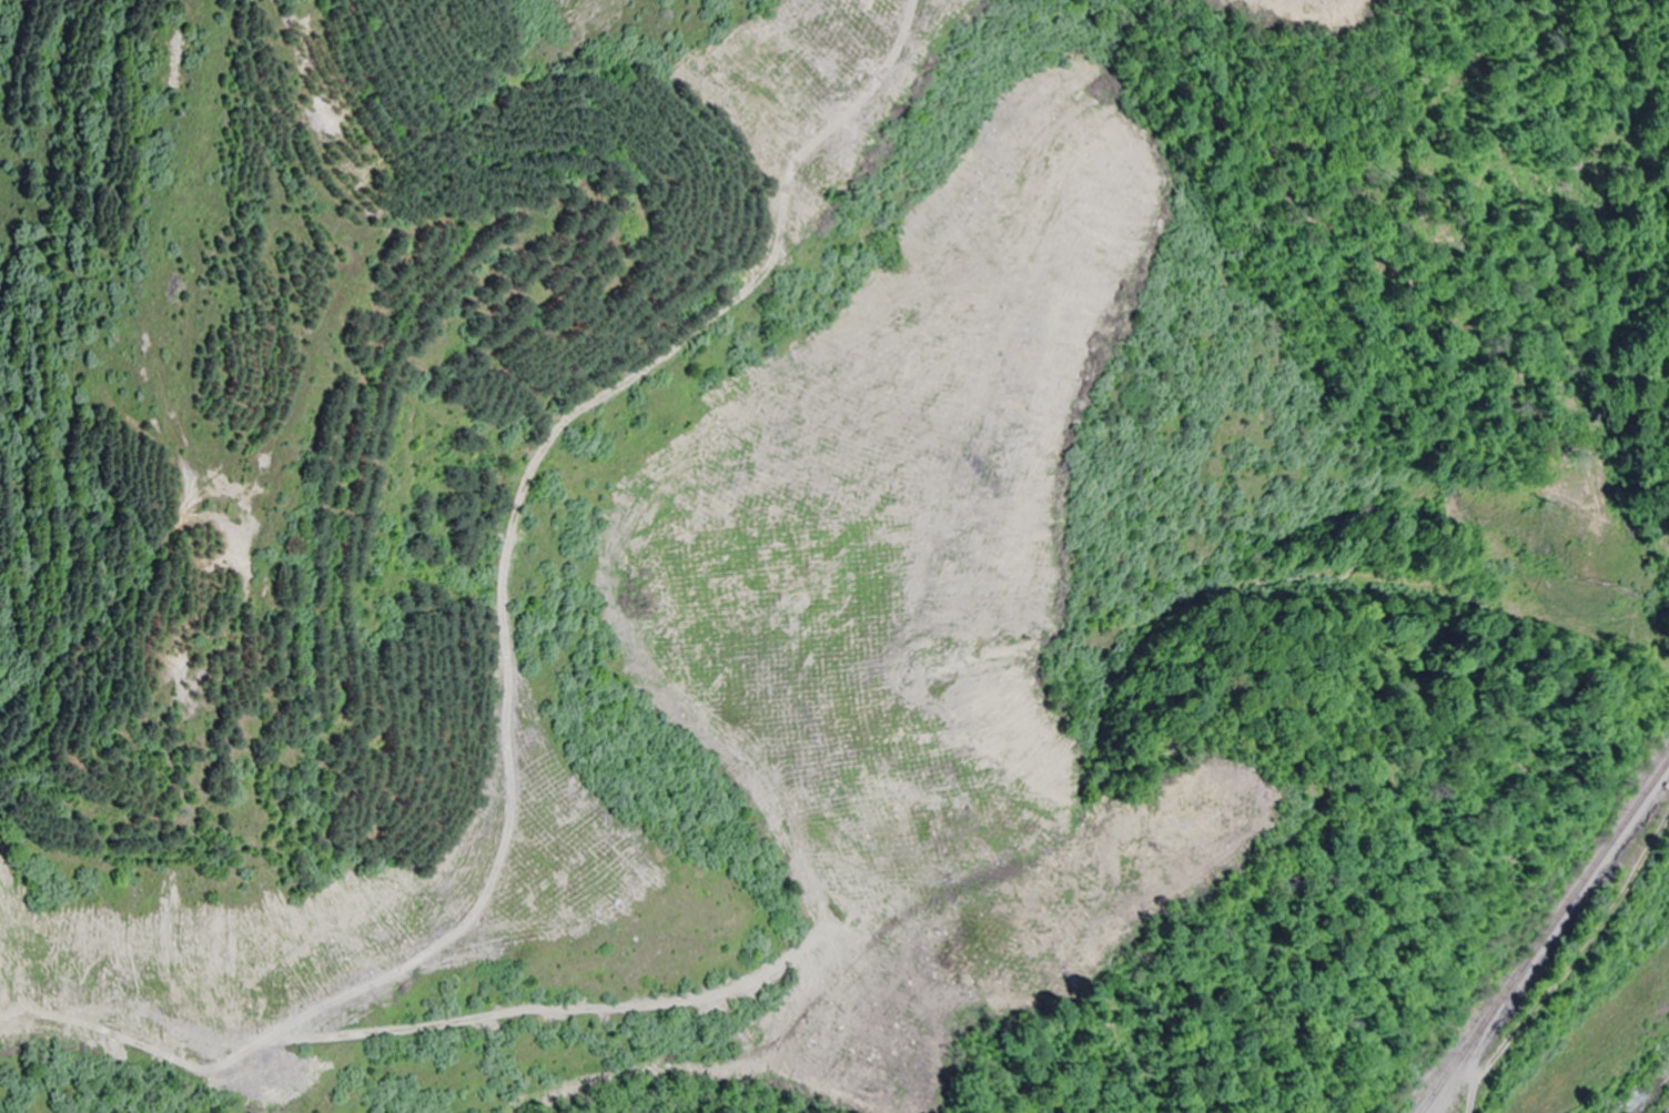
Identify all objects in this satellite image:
road: (1667, 647)
railway: (1541, 933)
road: (1566, 959)

